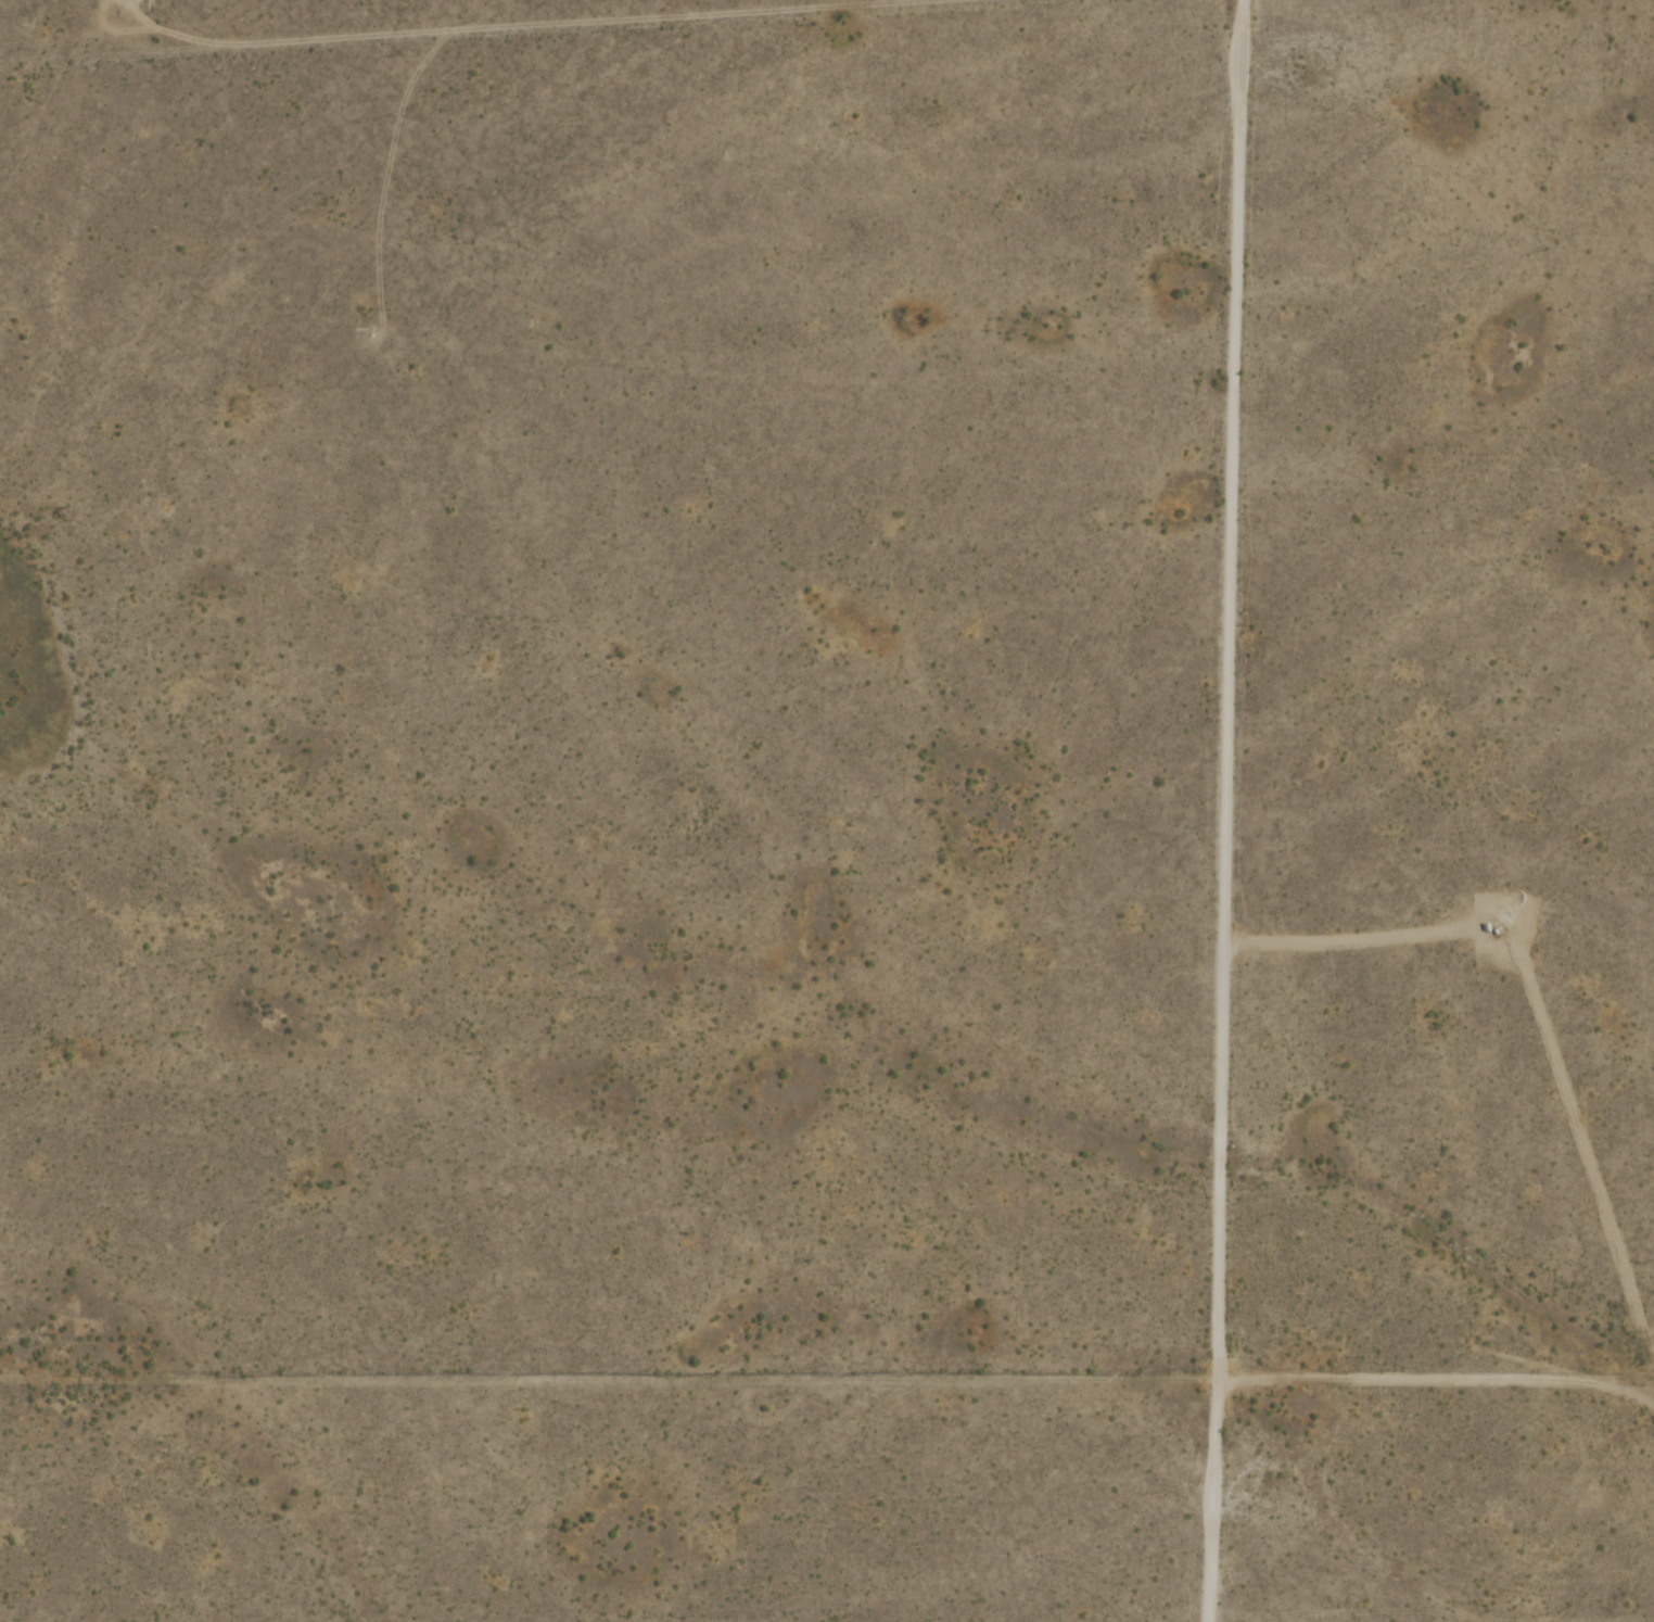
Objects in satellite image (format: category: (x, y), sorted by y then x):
road: (1219, 811)

